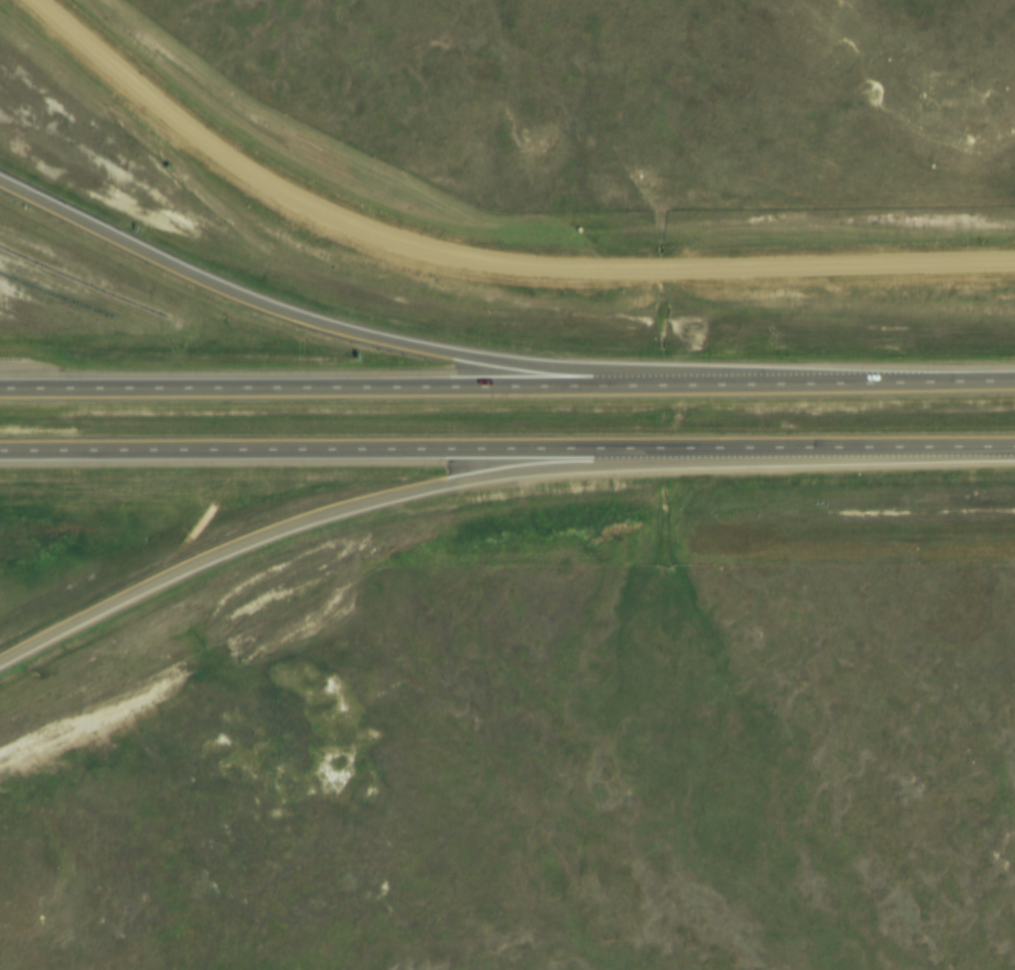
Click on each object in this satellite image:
road: (483, 263)
road: (322, 325)
road: (507, 388)
road: (507, 452)
road: (422, 493)

